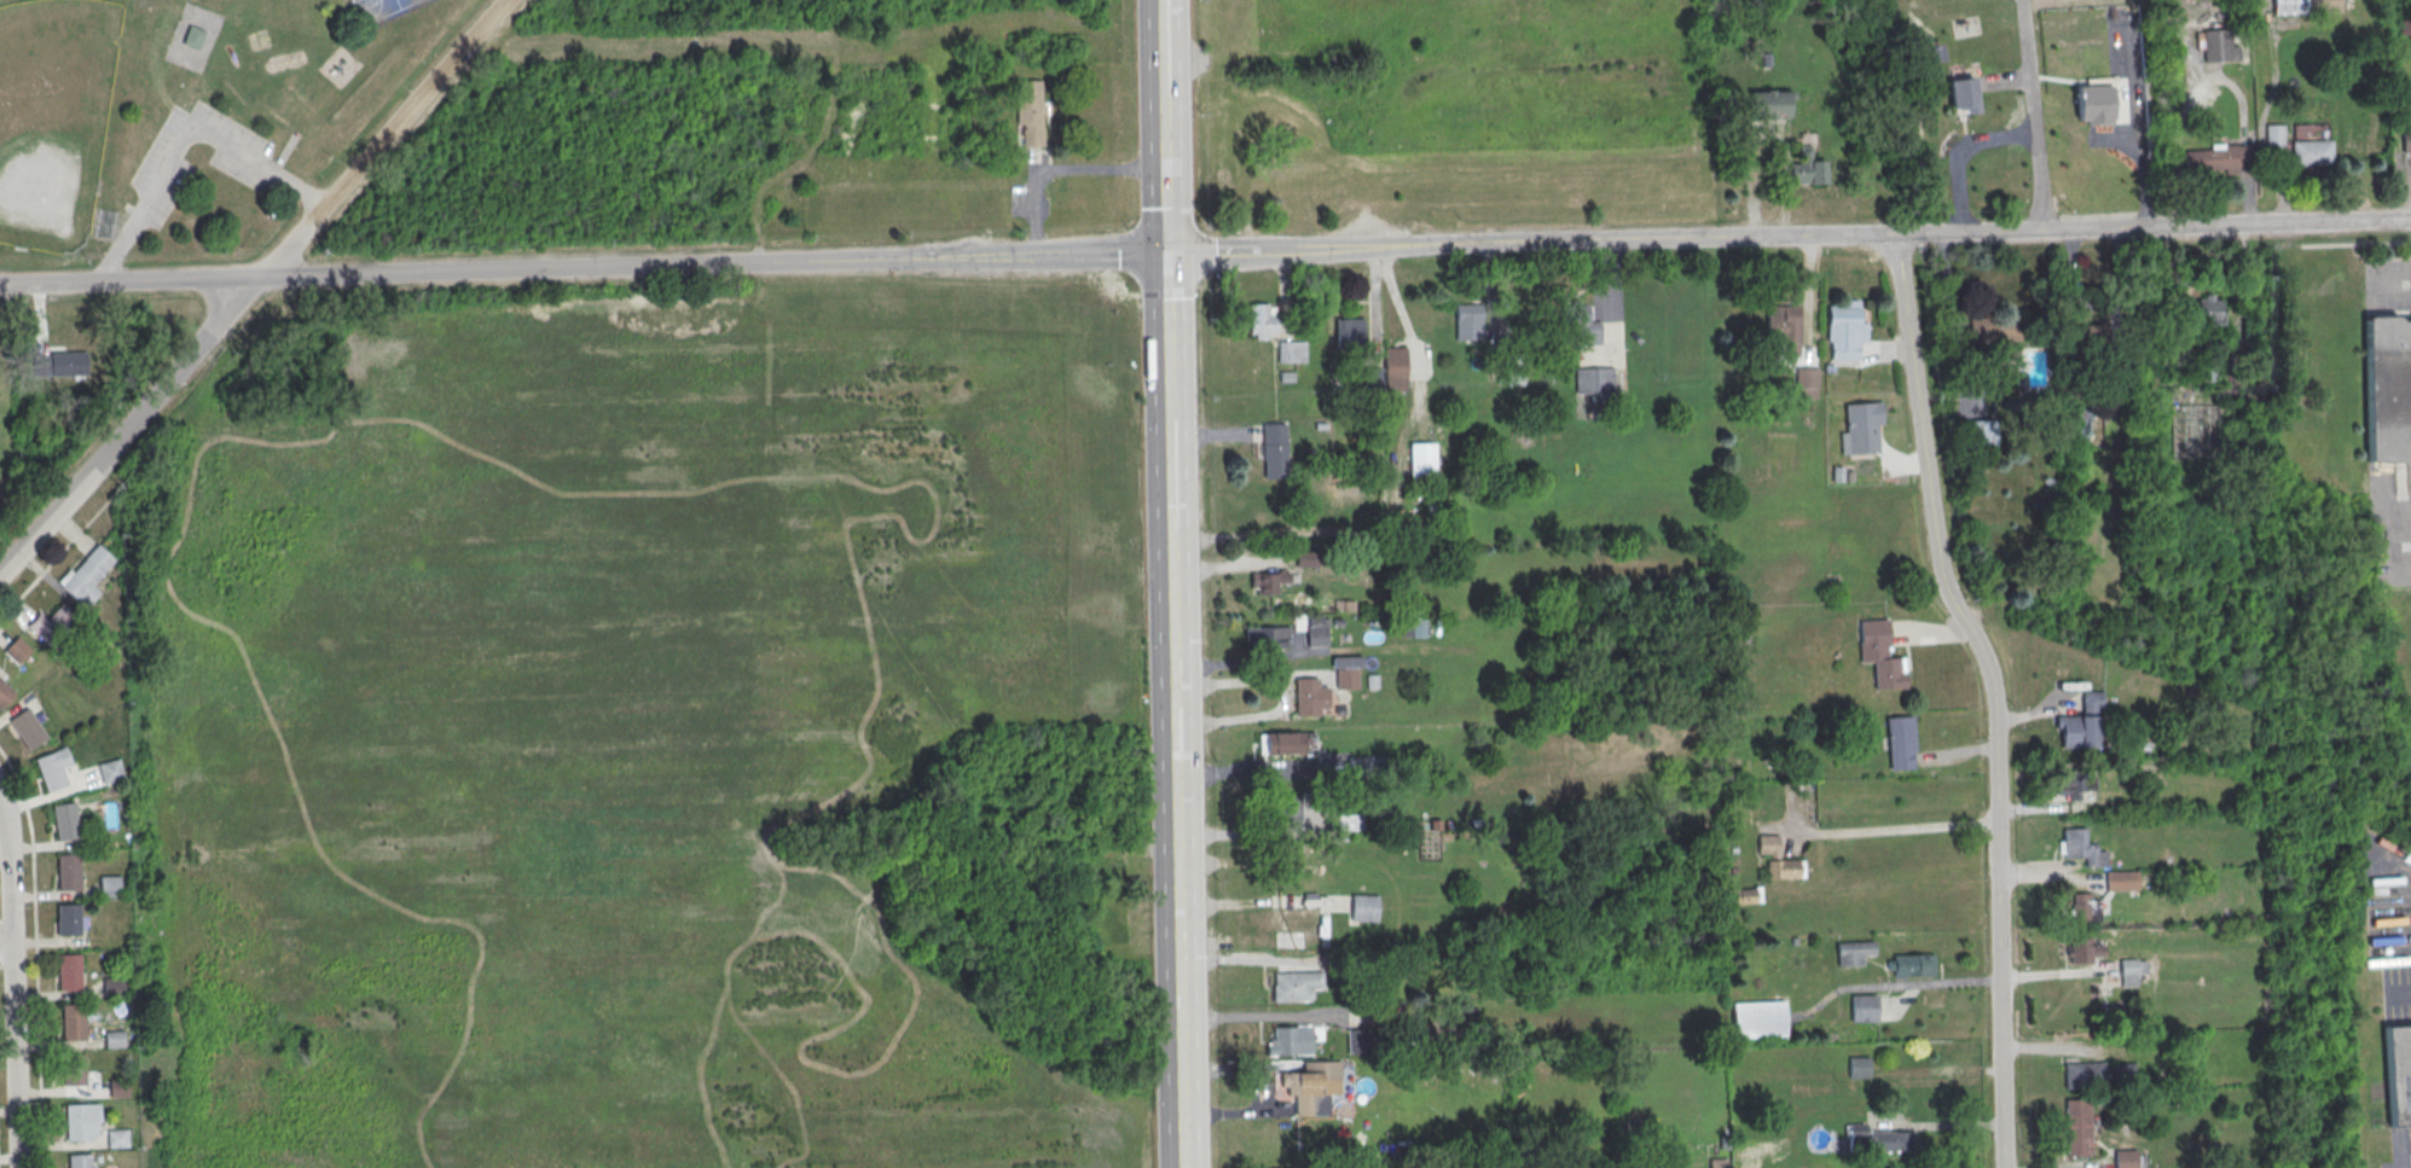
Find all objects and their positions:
building: (2305, 6)
building: (192, 36)
building: (2219, 46)
building: (1963, 94)
building: (2093, 104)
building: (1769, 105)
building: (1030, 111)
road: (2034, 114)
road: (1161, 127)
building: (2273, 134)
road: (185, 136)
building: (2406, 140)
building: (2311, 152)
building: (2214, 158)
building: (1806, 168)
road: (1059, 170)
road: (2171, 225)
road: (1912, 233)
road: (1528, 242)
traffic signals: (1165, 255)
road: (712, 262)
road: (129, 278)
road: (249, 283)
road: (2390, 285)
building: (2208, 309)
building: (1262, 320)
building: (1468, 322)
building: (1783, 324)
building: (1581, 325)
building: (1843, 330)
building: (1349, 333)
building: (1995, 333)
building: (1292, 351)
building: (59, 364)
building: (1514, 368)
building: (1395, 371)
building: (1373, 377)
building: (1593, 380)
building: (1807, 382)
building: (2388, 387)
building: (1862, 426)
building: (1978, 432)
building: (1274, 451)
building: (1422, 460)
road: (54, 559)
building: (1306, 559)
road: (2400, 569)
building: (86, 574)
building: (1268, 581)
building: (48, 621)
road: (1929, 632)
building: (1316, 637)
building: (1267, 638)
building: (17, 649)
building: (1879, 655)
road: (1298, 674)
building: (1346, 679)
building: (5, 693)
road: (1994, 693)
building: (1309, 697)
road: (1282, 698)
road: (1172, 710)
building: (2081, 724)
building: (27, 728)
building: (1900, 743)
building: (1283, 744)
road: (1954, 752)
building: (1358, 767)
building: (52, 769)
building: (110, 769)
road: (1260, 771)
building: (2074, 785)
road: (23, 800)
building: (1282, 808)
building: (64, 821)
road: (1888, 830)
road: (1259, 831)
building: (2082, 848)
building: (1775, 858)
building: (68, 872)
building: (2121, 881)
building: (109, 887)
building: (1744, 895)
road: (1263, 902)
building: (1363, 907)
building: (2086, 907)
building: (68, 919)
building: (1302, 925)
road: (6, 945)
building: (2083, 951)
building: (1853, 952)
building: (1913, 965)
building: (69, 972)
building: (2127, 972)
road: (2059, 974)
road: (13, 982)
building: (1297, 986)
road: (1888, 986)
building: (112, 987)
building: (1864, 1009)
road: (36, 1011)
road: (1271, 1016)
building: (1758, 1019)
building: (73, 1022)
building: (114, 1038)
building: (1289, 1041)
building: (1361, 1041)
building: (1859, 1067)
building: (74, 1071)
building: (2122, 1074)
building: (2399, 1074)
building: (2085, 1075)
building: (1312, 1087)
building: (117, 1089)
road: (1238, 1112)
building: (81, 1121)
road: (1934, 1125)
building: (2077, 1128)
building: (117, 1138)
building: (1877, 1140)
building: (2125, 1158)
building: (79, 1161)
building: (1717, 1163)
building: (1577, 1167)

